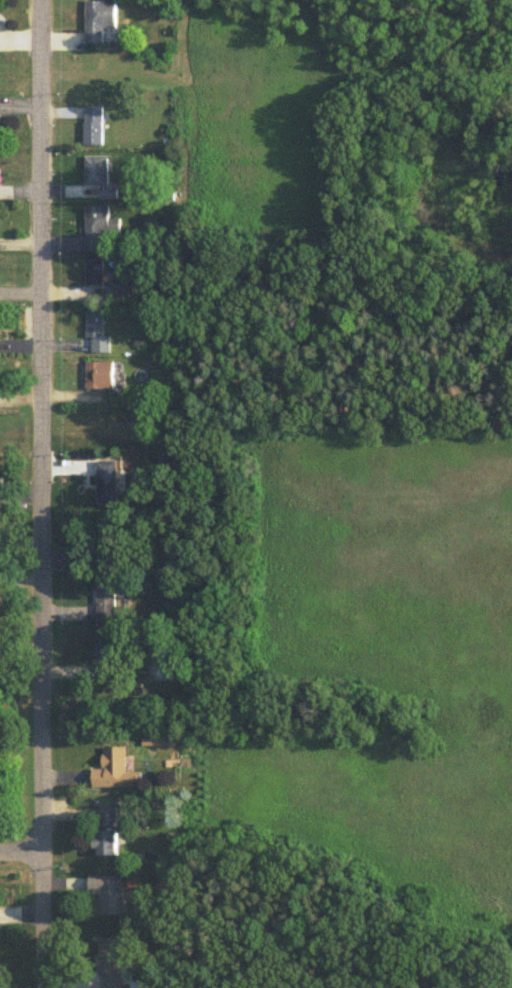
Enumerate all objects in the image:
building: (99, 18)
building: (93, 123)
building: (99, 171)
building: (96, 223)
building: (94, 269)
building: (124, 288)
building: (97, 329)
building: (100, 372)
building: (107, 480)
road: (42, 494)
building: (108, 526)
building: (108, 596)
building: (105, 649)
building: (115, 767)
building: (106, 829)
road: (21, 845)
building: (108, 891)
building: (111, 961)

